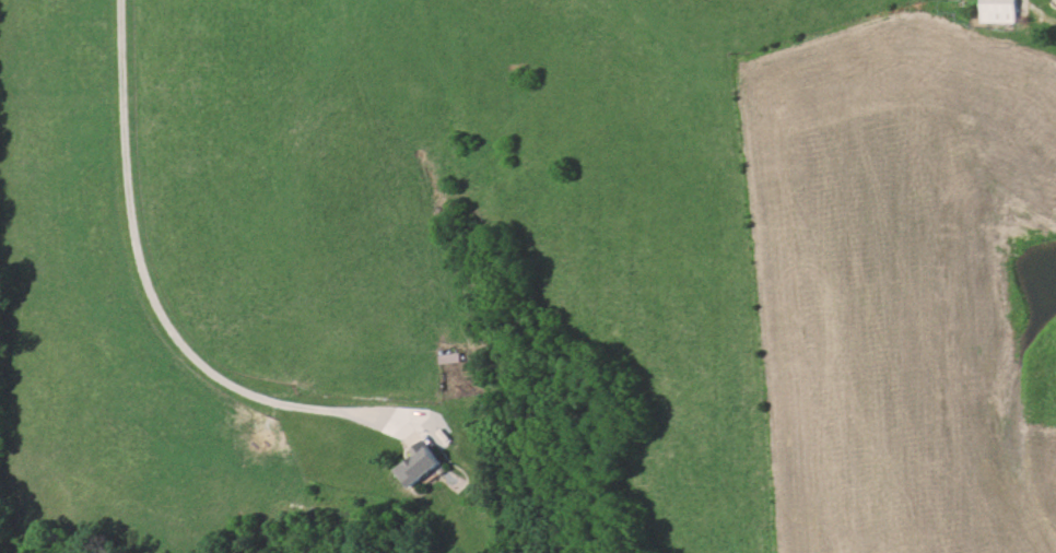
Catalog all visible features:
building: (999, 11)
road: (1044, 21)
road: (207, 363)
building: (414, 462)

